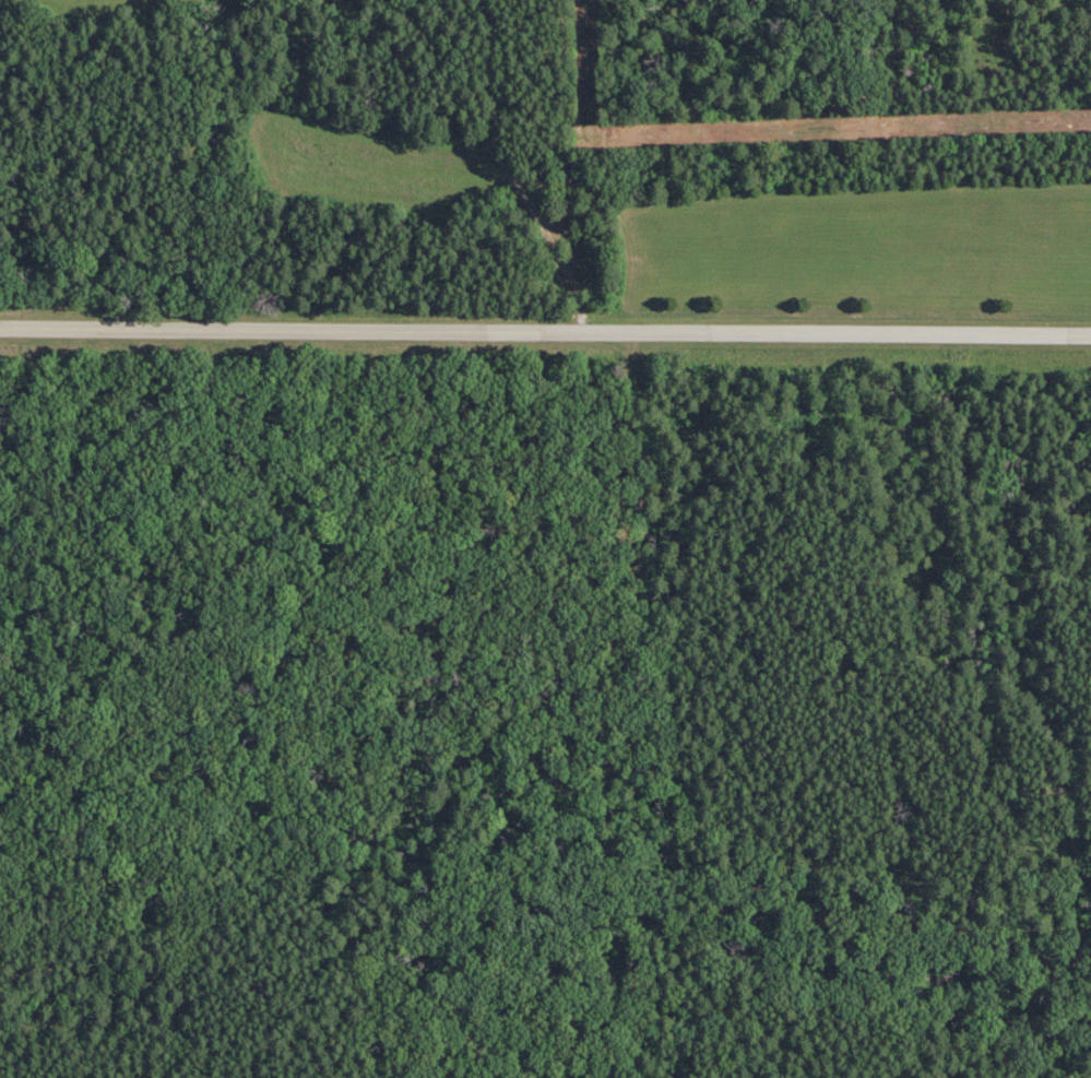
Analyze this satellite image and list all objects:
road: (510, 173)
road: (545, 331)

